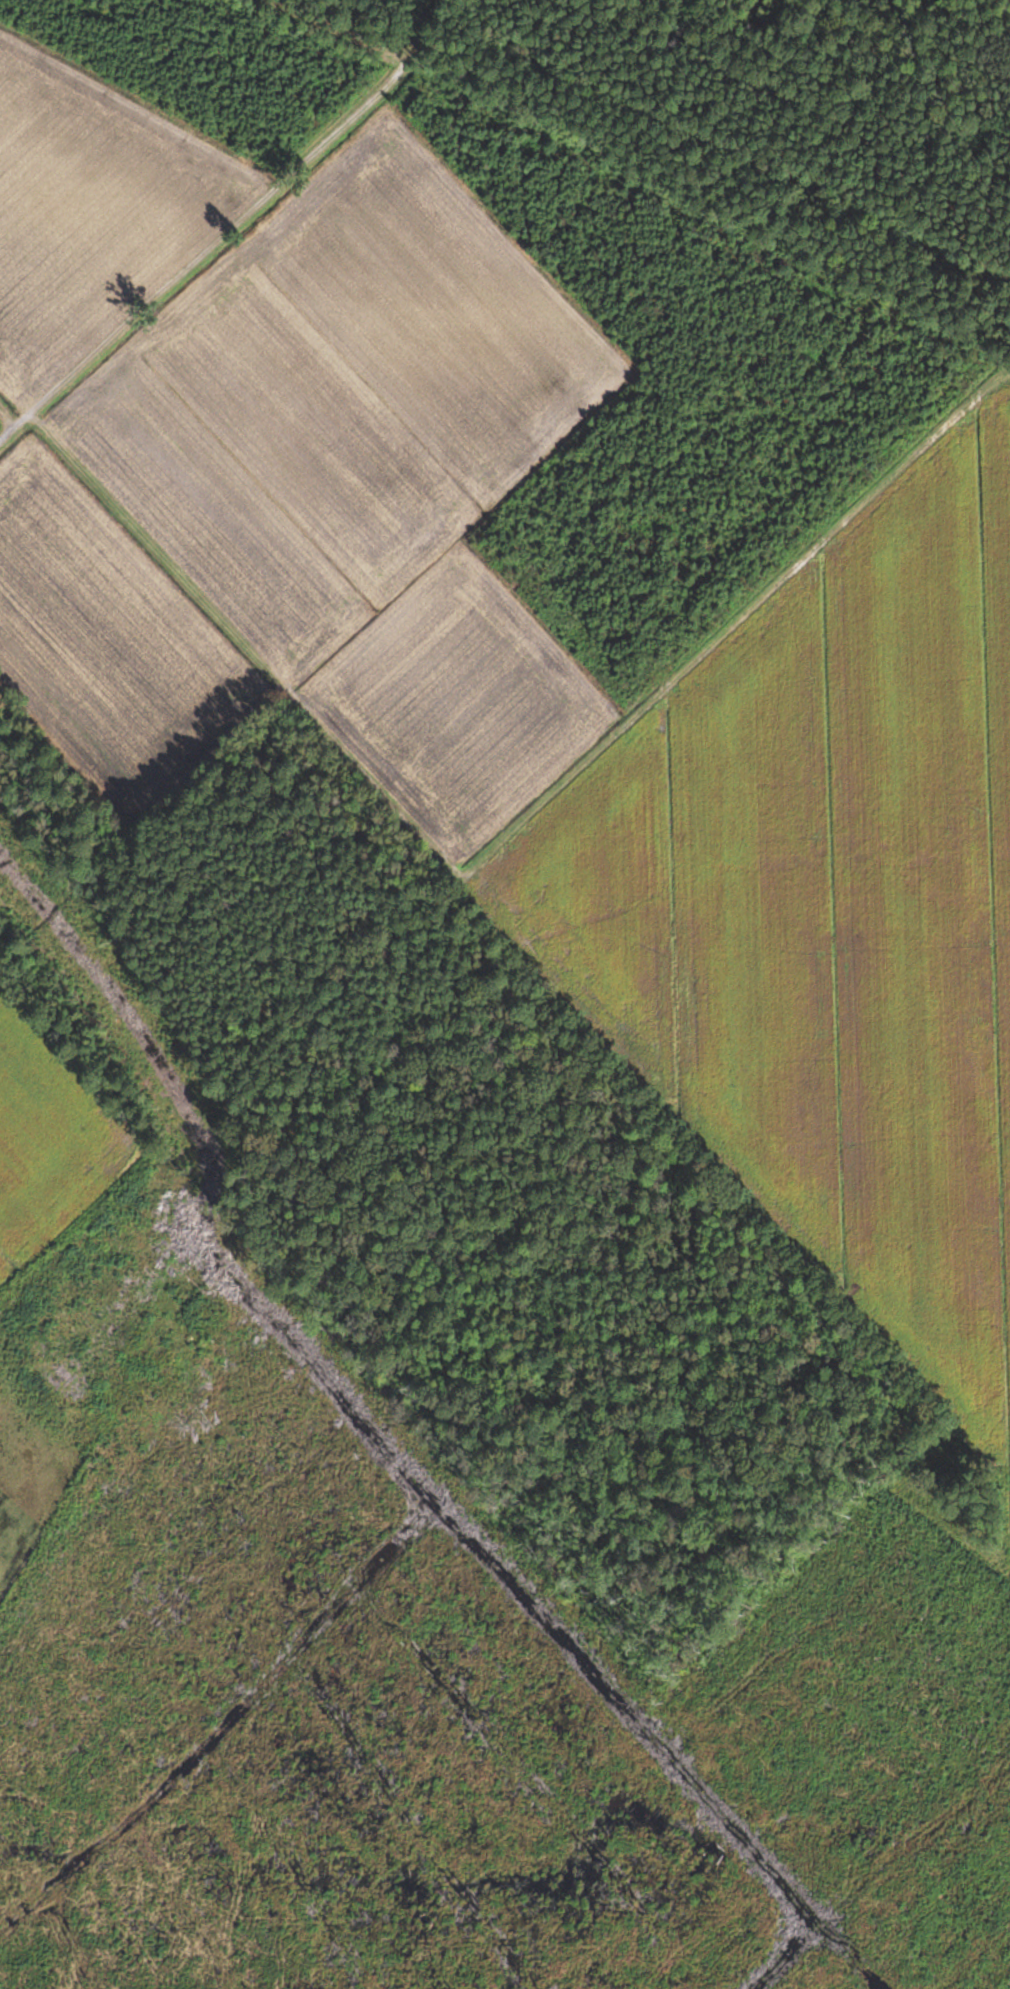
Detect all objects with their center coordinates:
road: (6, 443)

